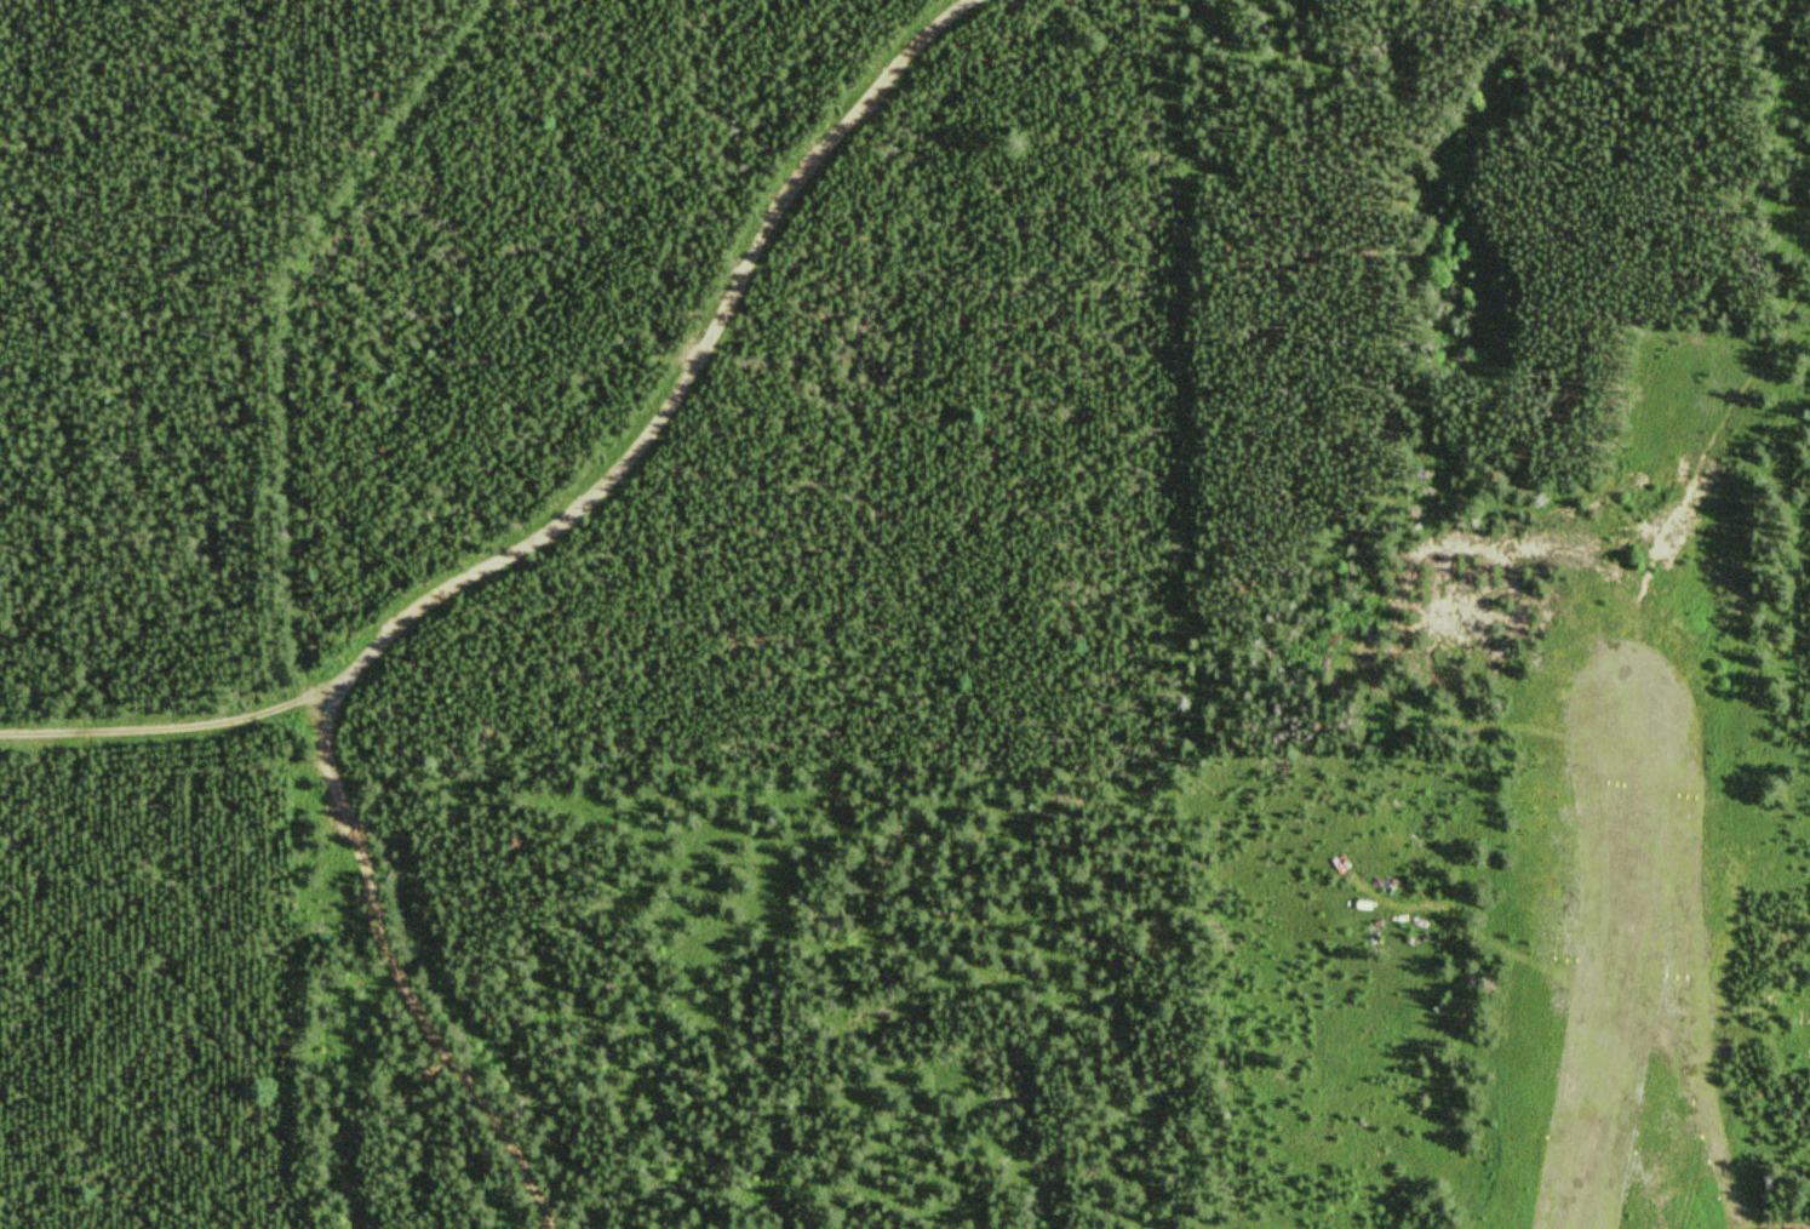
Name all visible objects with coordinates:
road: (1472, 280)
road: (572, 490)
road: (1774, 680)
road: (402, 973)
airport runway: (1611, 1014)

